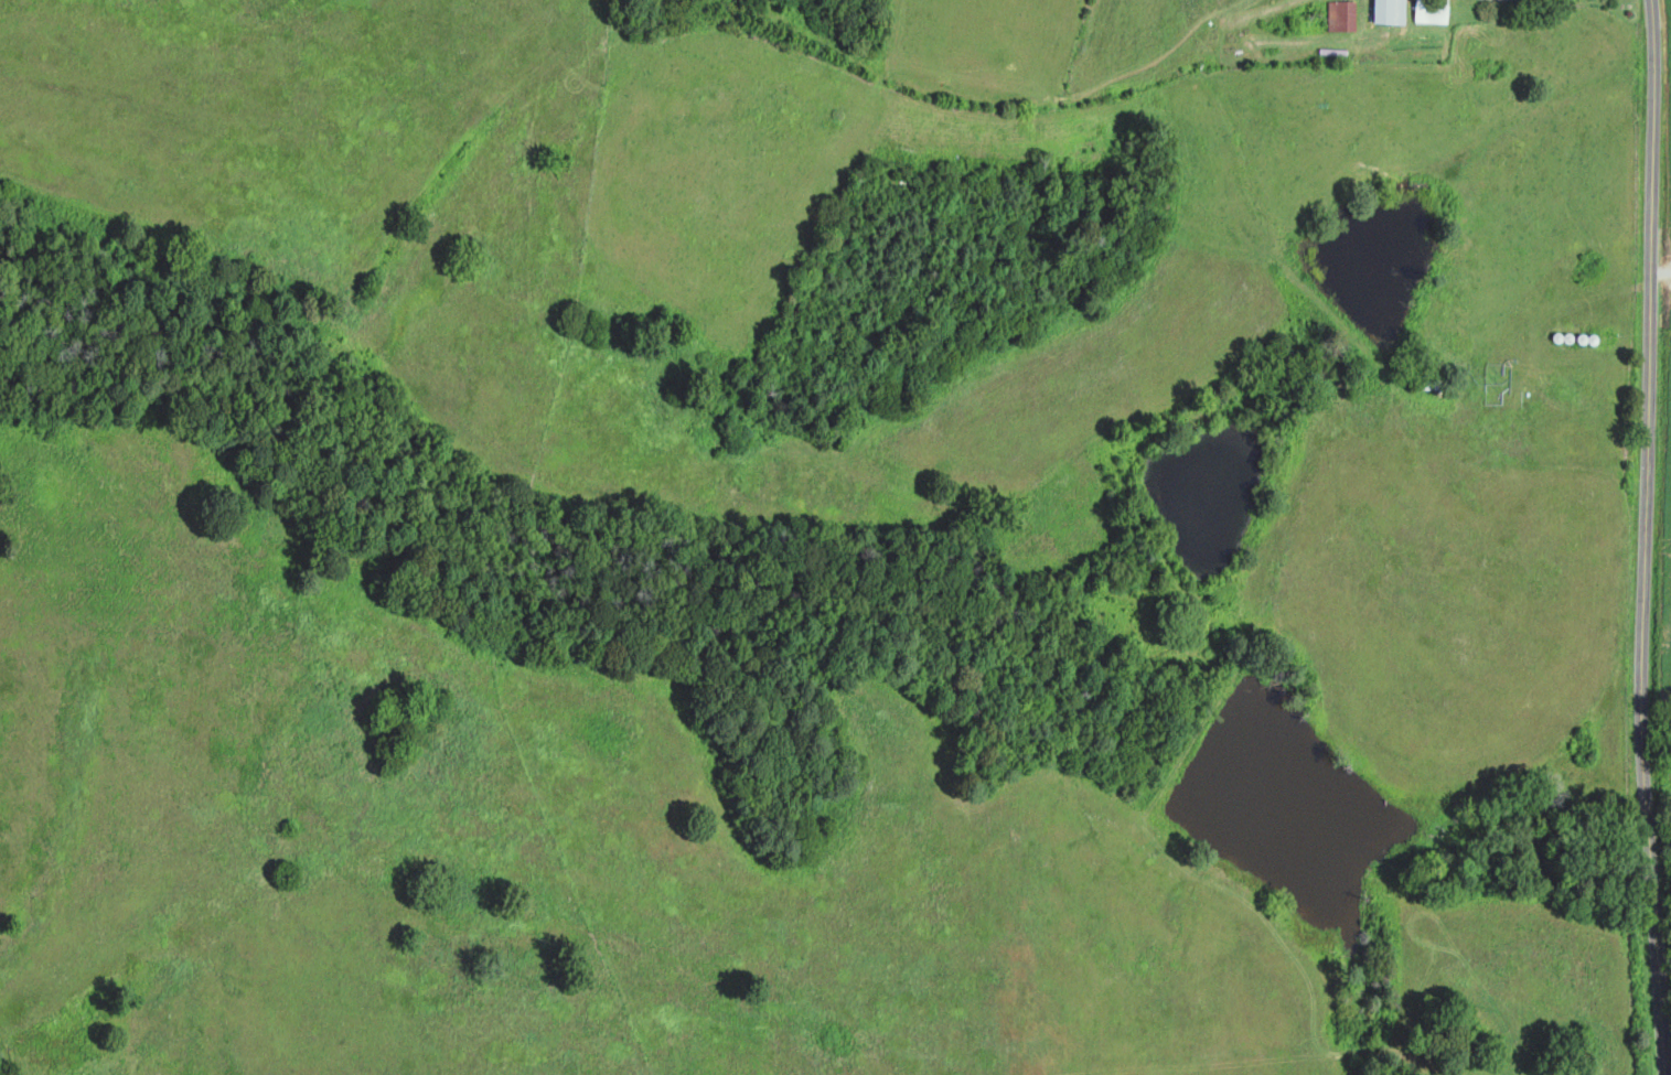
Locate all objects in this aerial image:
building: (1426, 11)
building: (1384, 12)
building: (1338, 17)
road: (1647, 537)

